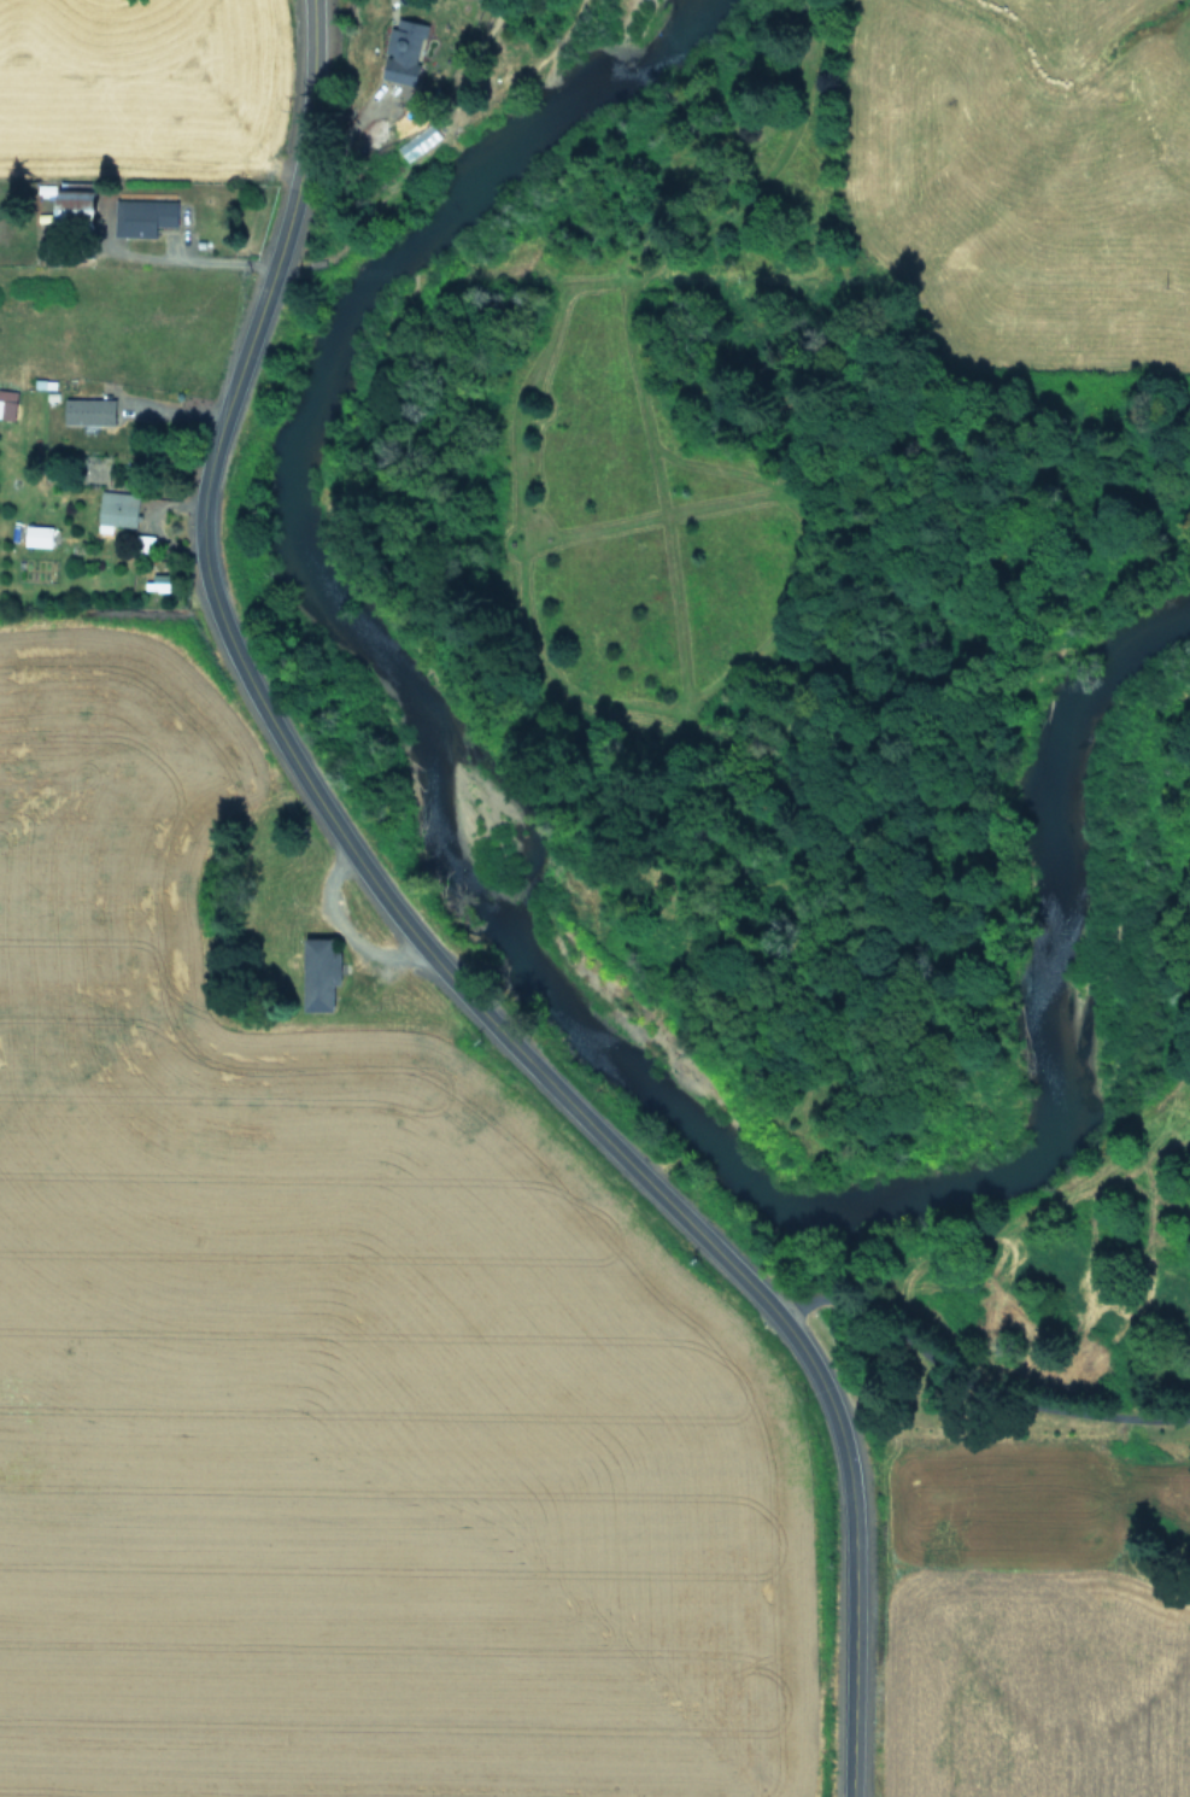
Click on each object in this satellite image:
building: (401, 51)
crop: (1009, 168)
building: (70, 204)
building: (140, 216)
building: (6, 404)
building: (86, 411)
building: (115, 510)
road: (411, 942)
building: (316, 974)
crop: (280, 1170)
road: (1007, 1420)
crop: (1030, 1564)

